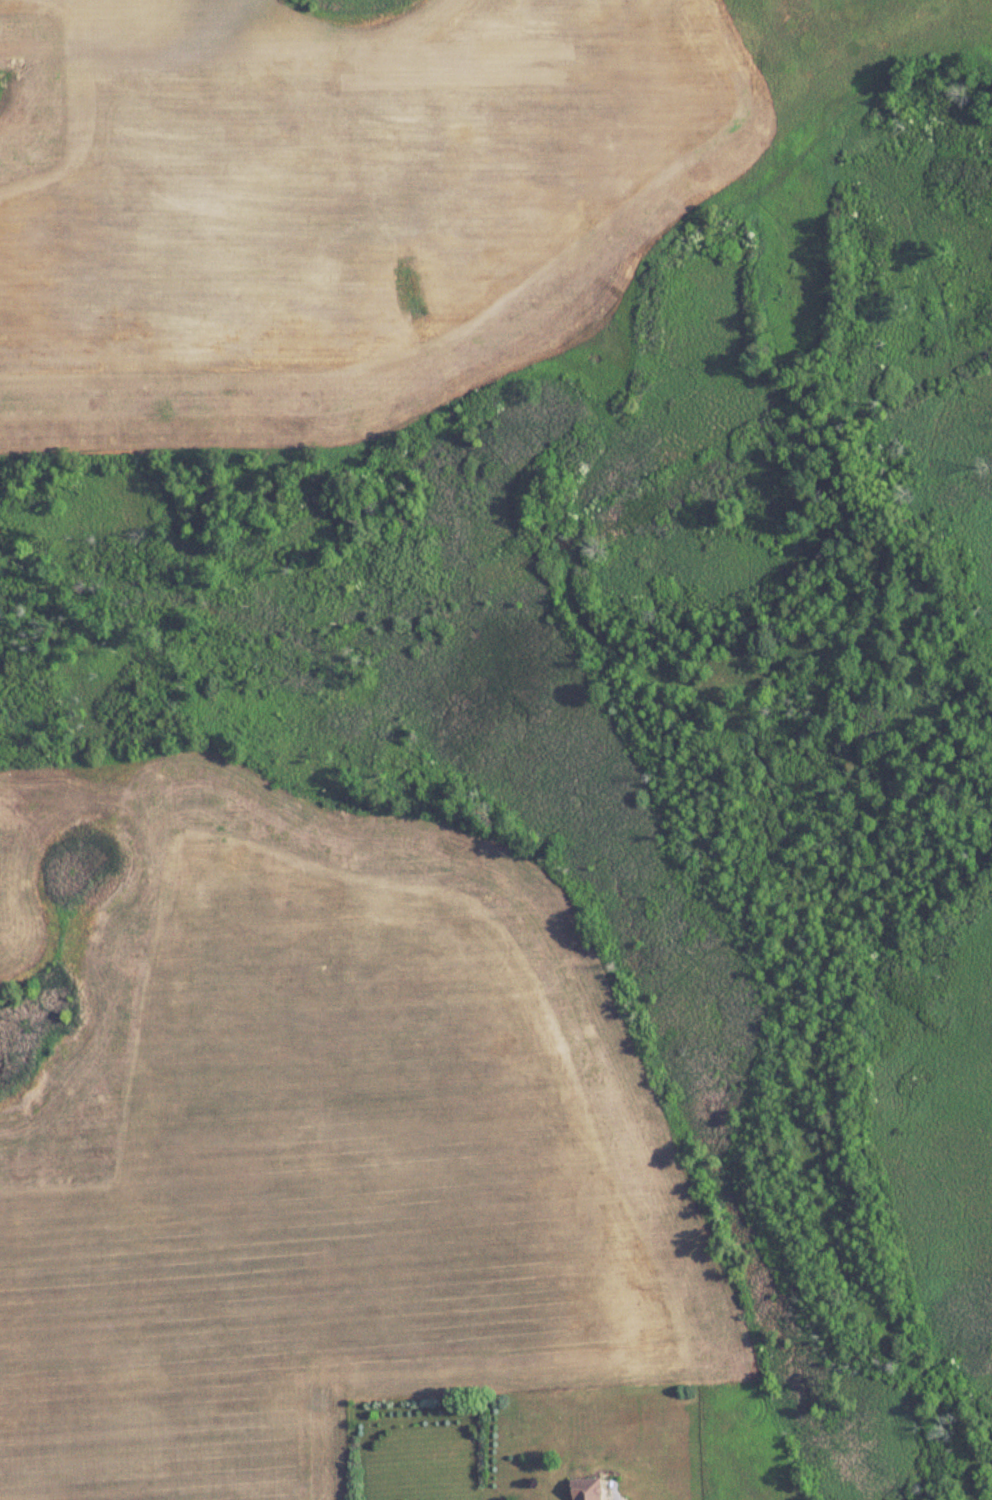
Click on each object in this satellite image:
building: (588, 1489)

